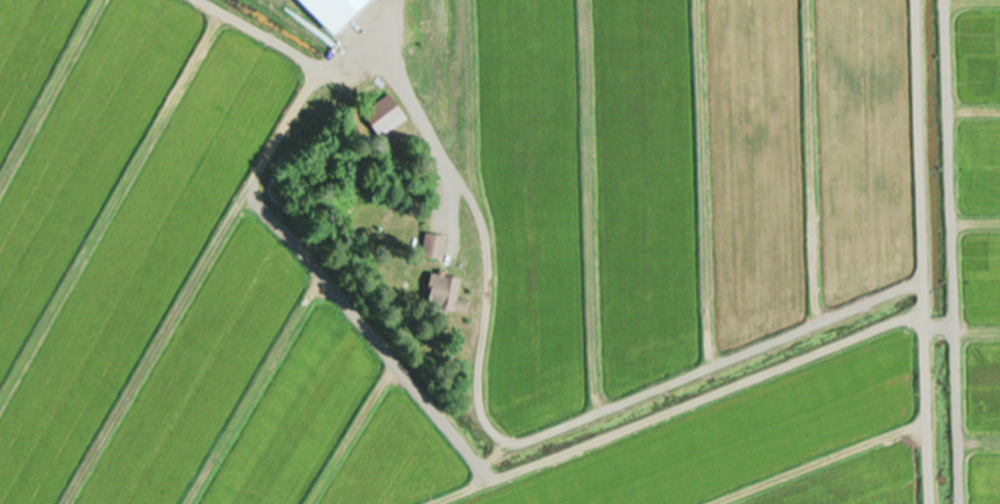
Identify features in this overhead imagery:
building: (333, 12)
road: (255, 37)
road: (365, 46)
building: (383, 116)
building: (433, 247)
crop: (500, 252)
road: (943, 252)
building: (444, 293)
road: (343, 309)

